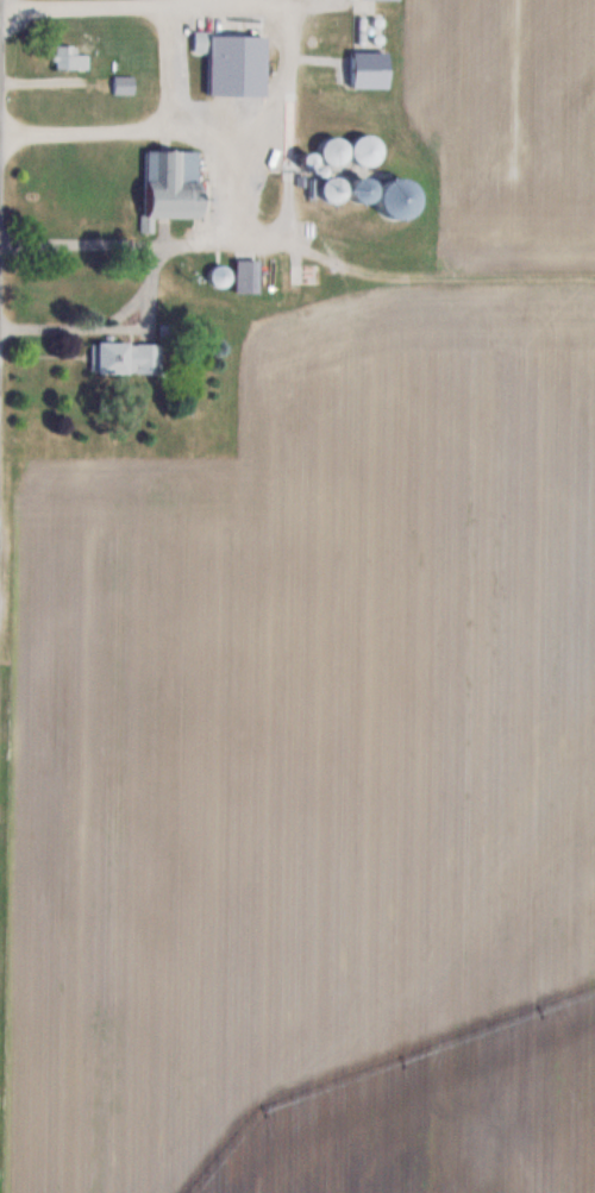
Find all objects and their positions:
building: (70, 57)
road: (288, 61)
building: (230, 64)
building: (364, 149)
building: (337, 151)
building: (174, 184)
building: (336, 188)
building: (389, 194)
road: (87, 244)
road: (154, 272)
building: (249, 276)
building: (130, 358)

